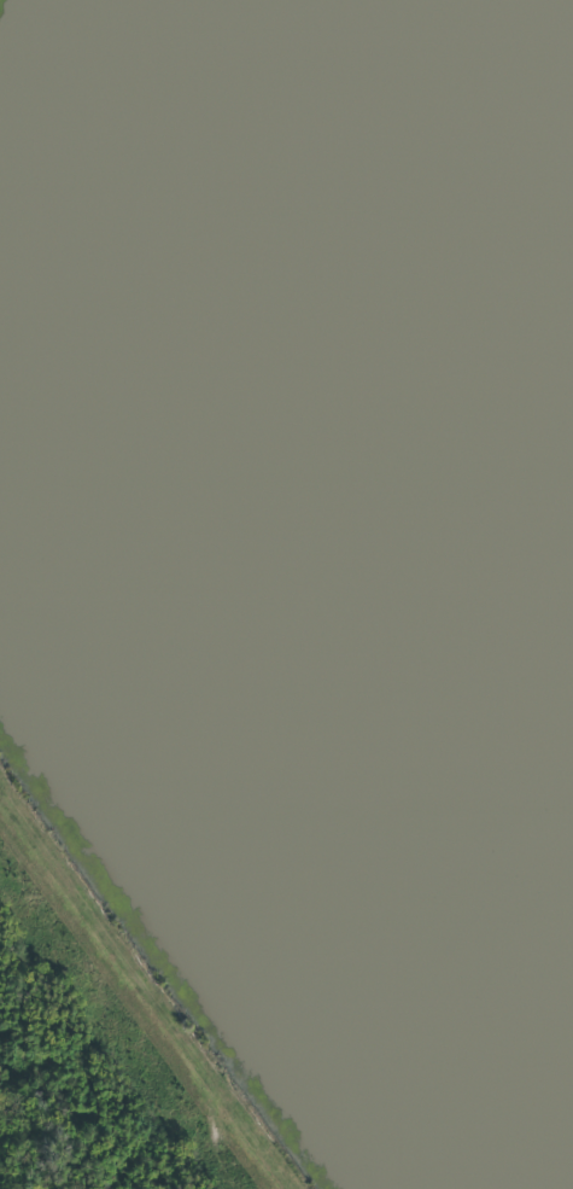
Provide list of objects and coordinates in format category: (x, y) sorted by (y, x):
road: (148, 978)

